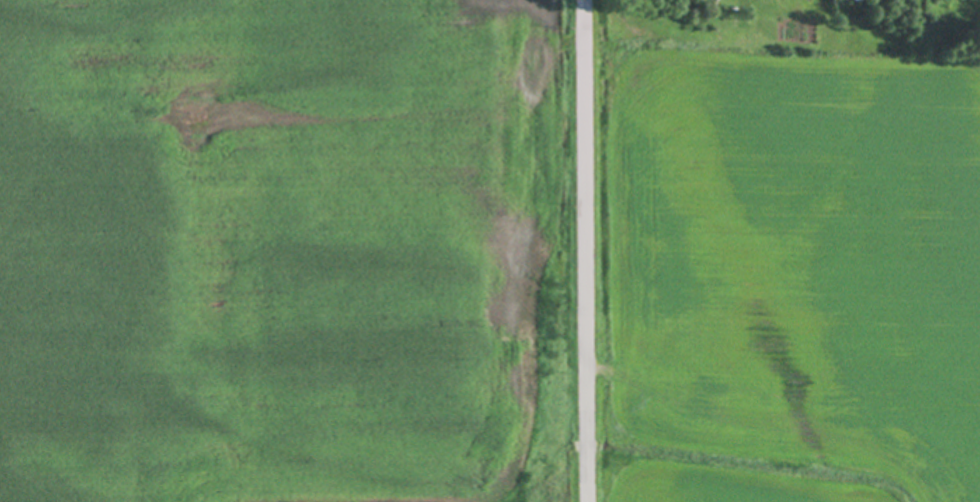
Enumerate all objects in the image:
road: (581, 251)

